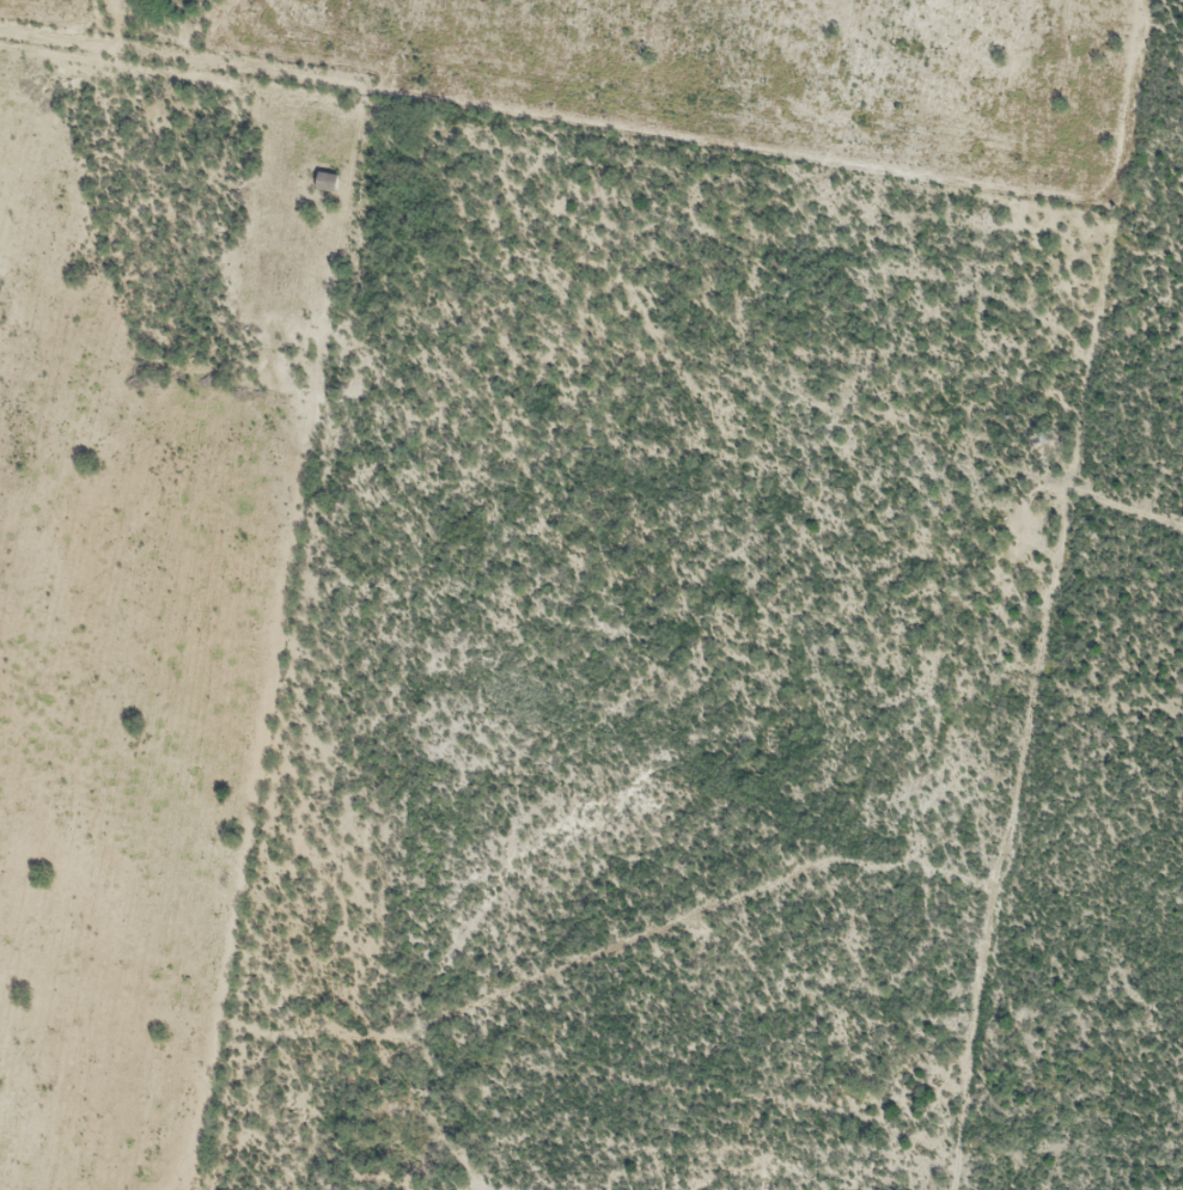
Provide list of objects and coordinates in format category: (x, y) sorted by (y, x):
building: (328, 183)
road: (336, 359)
building: (1041, 439)
road: (1073, 592)

